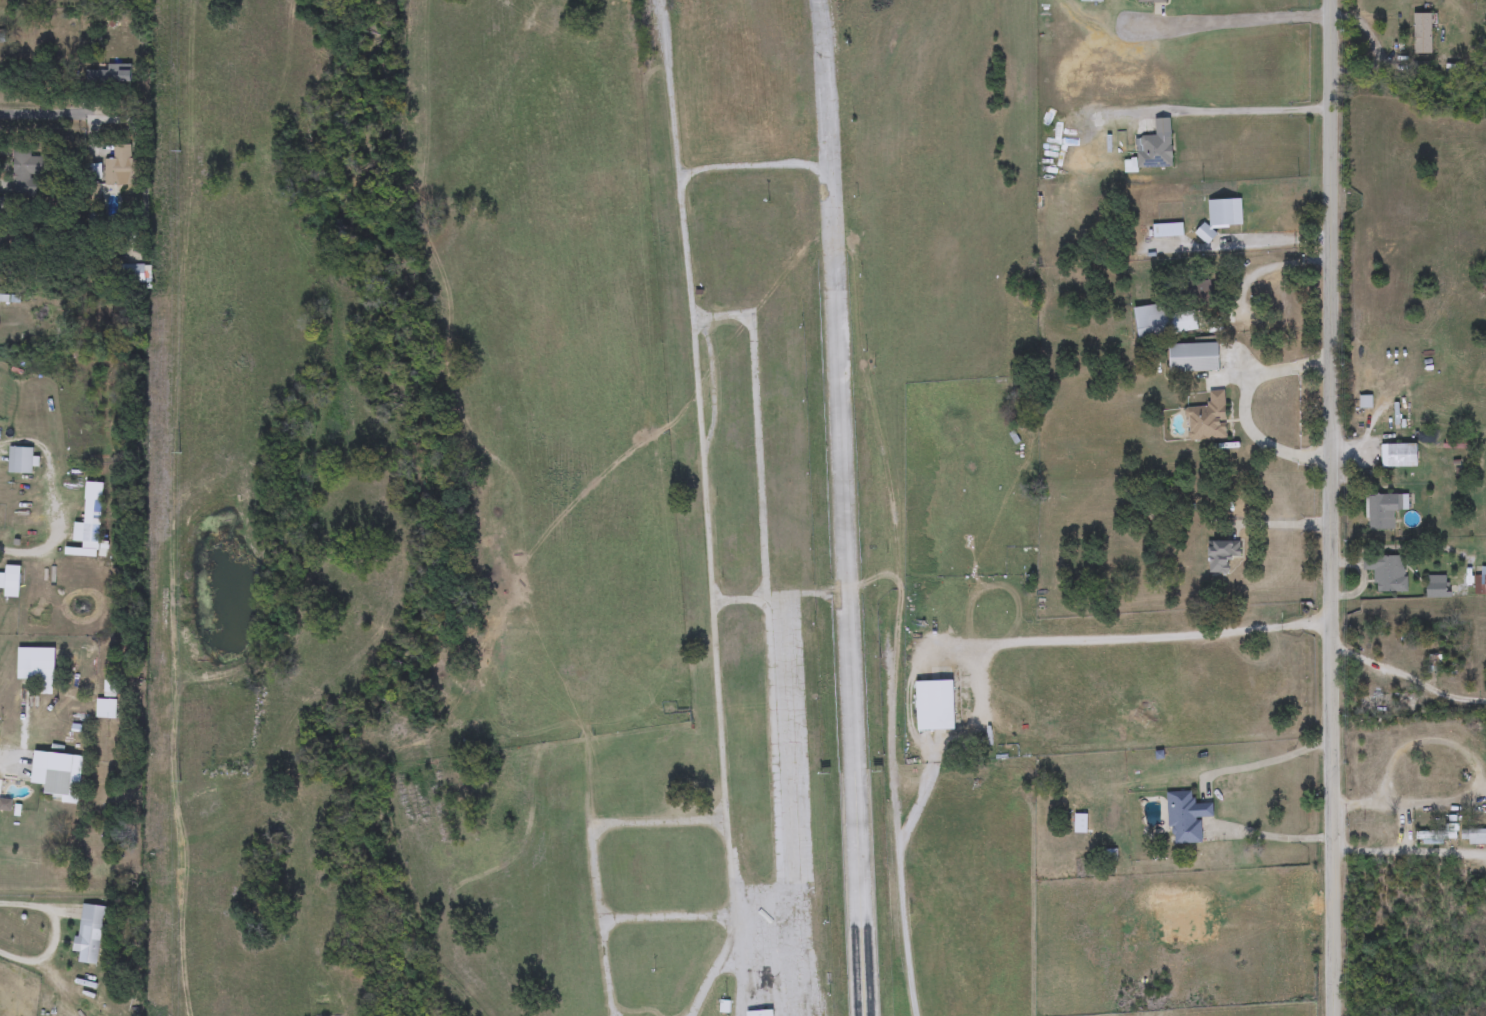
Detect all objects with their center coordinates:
building: (1151, 2)
road: (1245, 20)
building: (1422, 33)
building: (109, 78)
road: (833, 93)
road: (1242, 110)
road: (42, 113)
building: (1155, 147)
building: (122, 167)
road: (763, 167)
building: (25, 172)
building: (1224, 212)
building: (1163, 321)
building: (1194, 358)
road: (1252, 407)
building: (1208, 419)
road: (707, 454)
building: (1403, 455)
building: (20, 460)
road: (43, 503)
road: (1334, 507)
building: (1384, 512)
building: (89, 528)
building: (1222, 555)
building: (1388, 573)
building: (9, 581)
building: (1484, 585)
building: (1437, 587)
road: (855, 602)
building: (37, 666)
road: (987, 674)
road: (1408, 678)
building: (935, 705)
building: (1367, 705)
road: (1, 760)
building: (1407, 770)
building: (57, 774)
building: (1446, 780)
road: (1204, 799)
building: (1186, 817)
building: (1370, 835)
building: (1435, 835)
building: (1473, 835)
road: (1408, 850)
road: (604, 857)
road: (64, 931)
building: (89, 934)
road: (746, 934)
road: (791, 941)
road: (718, 980)
road: (748, 987)
building: (768, 1015)

